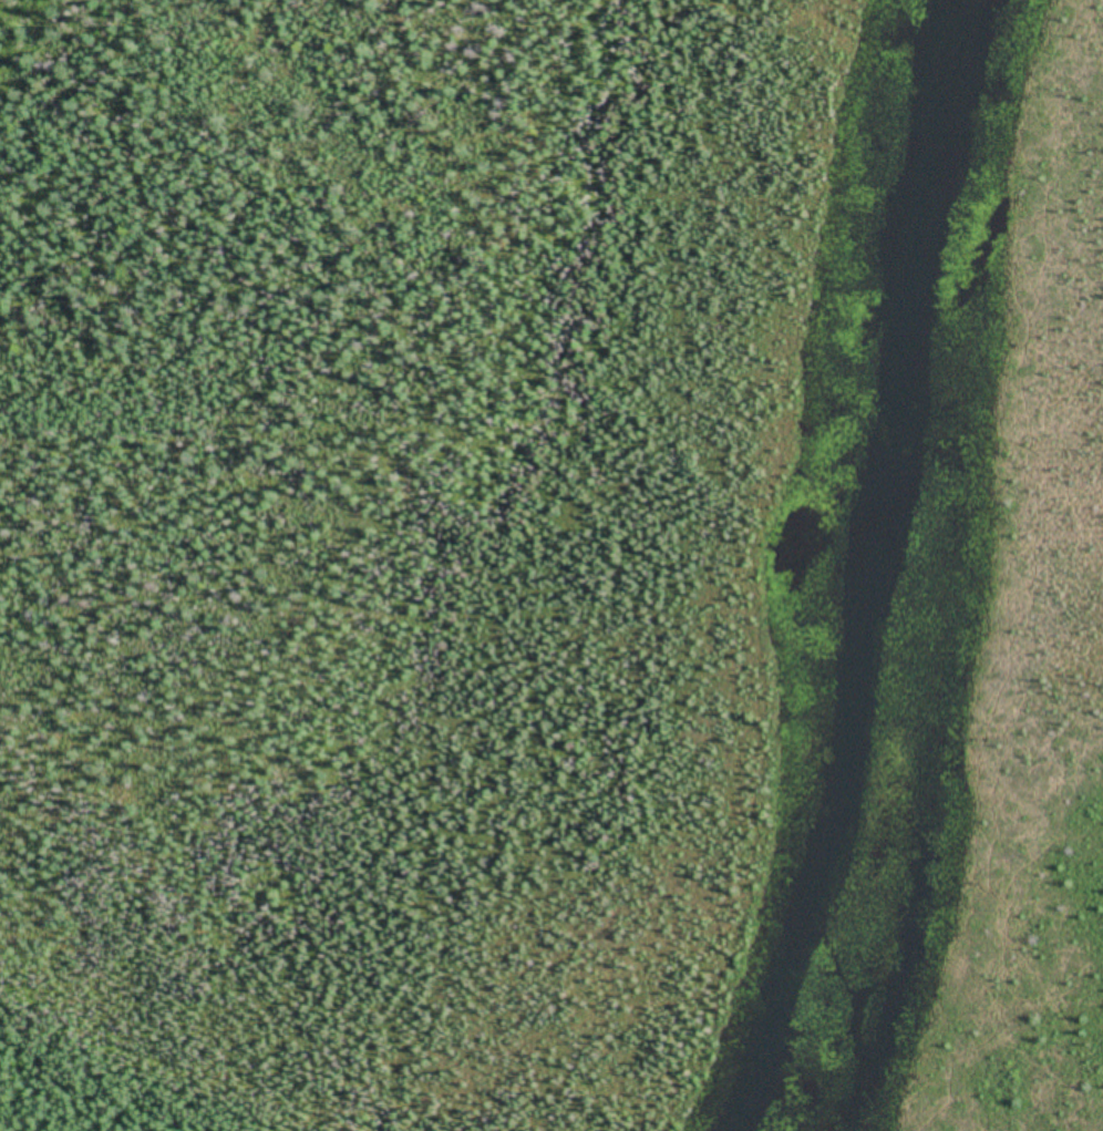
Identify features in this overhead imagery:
river: (880, 569)

